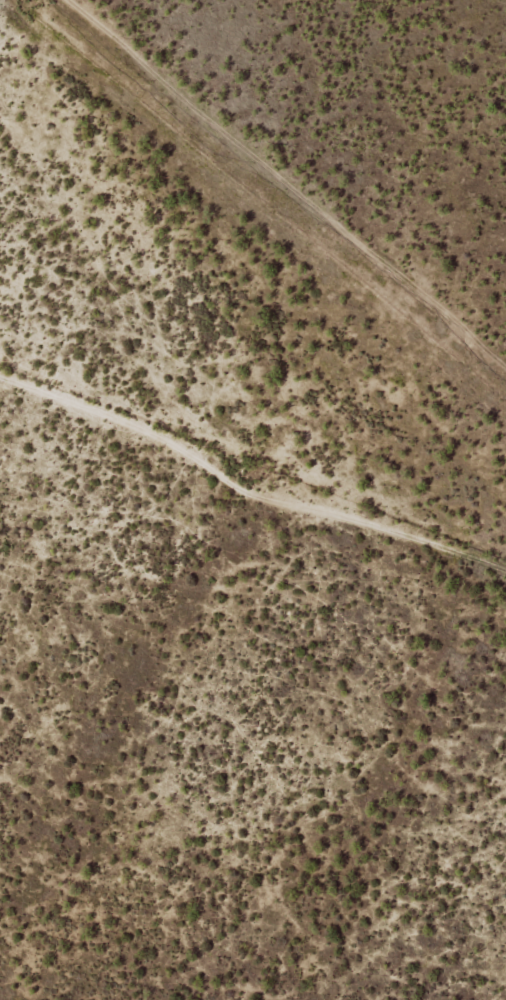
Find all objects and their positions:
road: (253, 484)

